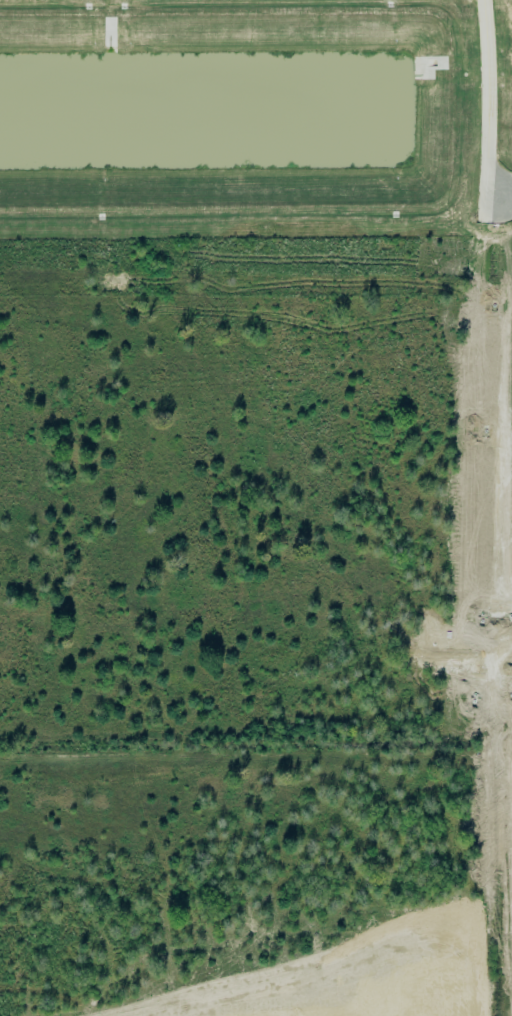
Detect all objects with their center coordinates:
road: (196, 336)
road: (476, 350)
road: (316, 547)
road: (163, 655)

